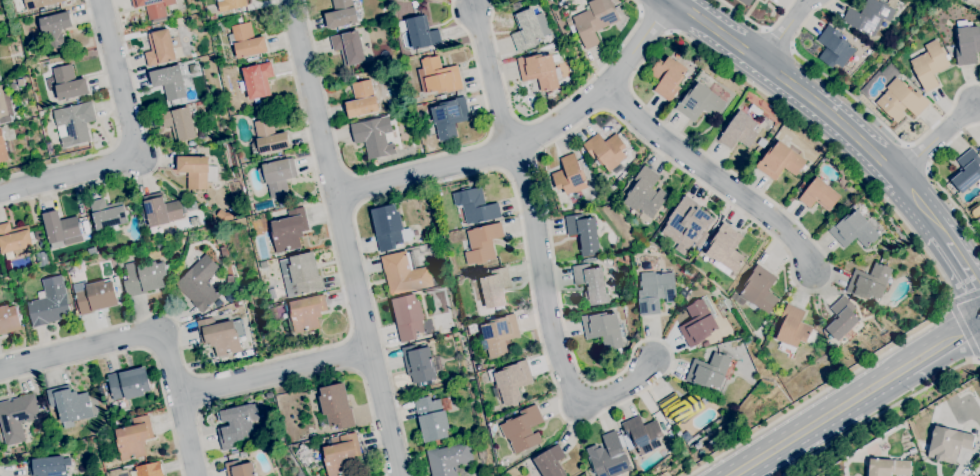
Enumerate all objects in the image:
building: (965, 0)
building: (979, 0)
building: (746, 2)
building: (40, 3)
building: (230, 4)
building: (516, 6)
building: (154, 8)
building: (43, 10)
building: (34, 11)
road: (640, 12)
building: (341, 14)
building: (869, 16)
building: (213, 17)
building: (239, 20)
road: (656, 20)
building: (593, 21)
road: (758, 26)
building: (529, 28)
building: (55, 29)
road: (765, 30)
road: (670, 31)
road: (783, 31)
building: (421, 33)
road: (777, 40)
building: (247, 41)
building: (967, 45)
building: (349, 47)
building: (160, 48)
road: (791, 48)
building: (836, 49)
building: (930, 65)
building: (890, 66)
road: (769, 69)
building: (539, 71)
building: (440, 76)
building: (667, 77)
building: (258, 80)
road: (494, 81)
building: (169, 82)
building: (66, 83)
building: (13, 87)
building: (550, 95)
building: (440, 97)
building: (362, 100)
building: (901, 101)
building: (39, 102)
building: (389, 102)
building: (4, 103)
building: (700, 103)
road: (863, 107)
building: (756, 110)
road: (545, 114)
building: (448, 118)
building: (74, 123)
building: (788, 123)
building: (179, 124)
road: (117, 130)
building: (739, 130)
building: (374, 137)
building: (268, 138)
road: (934, 140)
road: (529, 142)
building: (762, 143)
road: (907, 145)
building: (2, 147)
road: (133, 148)
road: (651, 148)
building: (979, 150)
building: (606, 151)
road: (916, 158)
road: (879, 160)
building: (780, 161)
road: (157, 162)
road: (403, 163)
building: (375, 164)
road: (927, 169)
building: (838, 170)
building: (967, 171)
building: (197, 172)
building: (277, 176)
building: (570, 177)
road: (932, 178)
road: (708, 179)
building: (645, 195)
building: (819, 195)
road: (918, 203)
building: (191, 206)
building: (474, 206)
building: (160, 210)
building: (107, 214)
building: (224, 215)
building: (684, 223)
building: (390, 228)
building: (61, 229)
building: (854, 230)
building: (155, 231)
building: (288, 231)
building: (584, 233)
road: (344, 237)
road: (945, 237)
building: (13, 239)
building: (483, 243)
building: (41, 244)
building: (726, 249)
building: (91, 251)
building: (43, 257)
building: (627, 257)
road: (964, 267)
building: (76, 268)
building: (610, 271)
building: (687, 271)
building: (404, 273)
building: (301, 275)
building: (144, 278)
building: (229, 280)
building: (870, 282)
building: (200, 284)
building: (591, 284)
building: (495, 287)
building: (760, 290)
building: (656, 291)
building: (681, 292)
building: (40, 295)
building: (96, 297)
building: (230, 297)
building: (50, 303)
building: (220, 304)
building: (237, 304)
building: (305, 313)
building: (408, 318)
building: (842, 318)
building: (9, 320)
road: (552, 322)
building: (697, 324)
building: (793, 328)
road: (154, 329)
building: (603, 329)
road: (965, 332)
building: (221, 335)
building: (498, 335)
road: (349, 336)
building: (707, 342)
road: (944, 343)
road: (322, 347)
road: (136, 349)
road: (353, 354)
building: (419, 365)
building: (478, 367)
building: (709, 371)
road: (274, 373)
road: (358, 373)
road: (191, 374)
road: (296, 381)
building: (511, 381)
road: (881, 382)
building: (128, 384)
road: (195, 391)
building: (269, 395)
building: (244, 399)
building: (70, 405)
building: (336, 406)
building: (680, 407)
road: (199, 408)
road: (879, 413)
building: (17, 417)
building: (431, 419)
building: (236, 425)
building: (522, 429)
building: (708, 430)
building: (332, 431)
building: (643, 434)
road: (792, 437)
building: (134, 438)
building: (0, 440)
building: (947, 444)
building: (6, 452)
building: (342, 455)
building: (608, 457)
building: (448, 459)
building: (550, 462)
building: (47, 467)
building: (889, 467)
building: (149, 469)
building: (239, 469)
building: (132, 473)
road: (1, 474)

